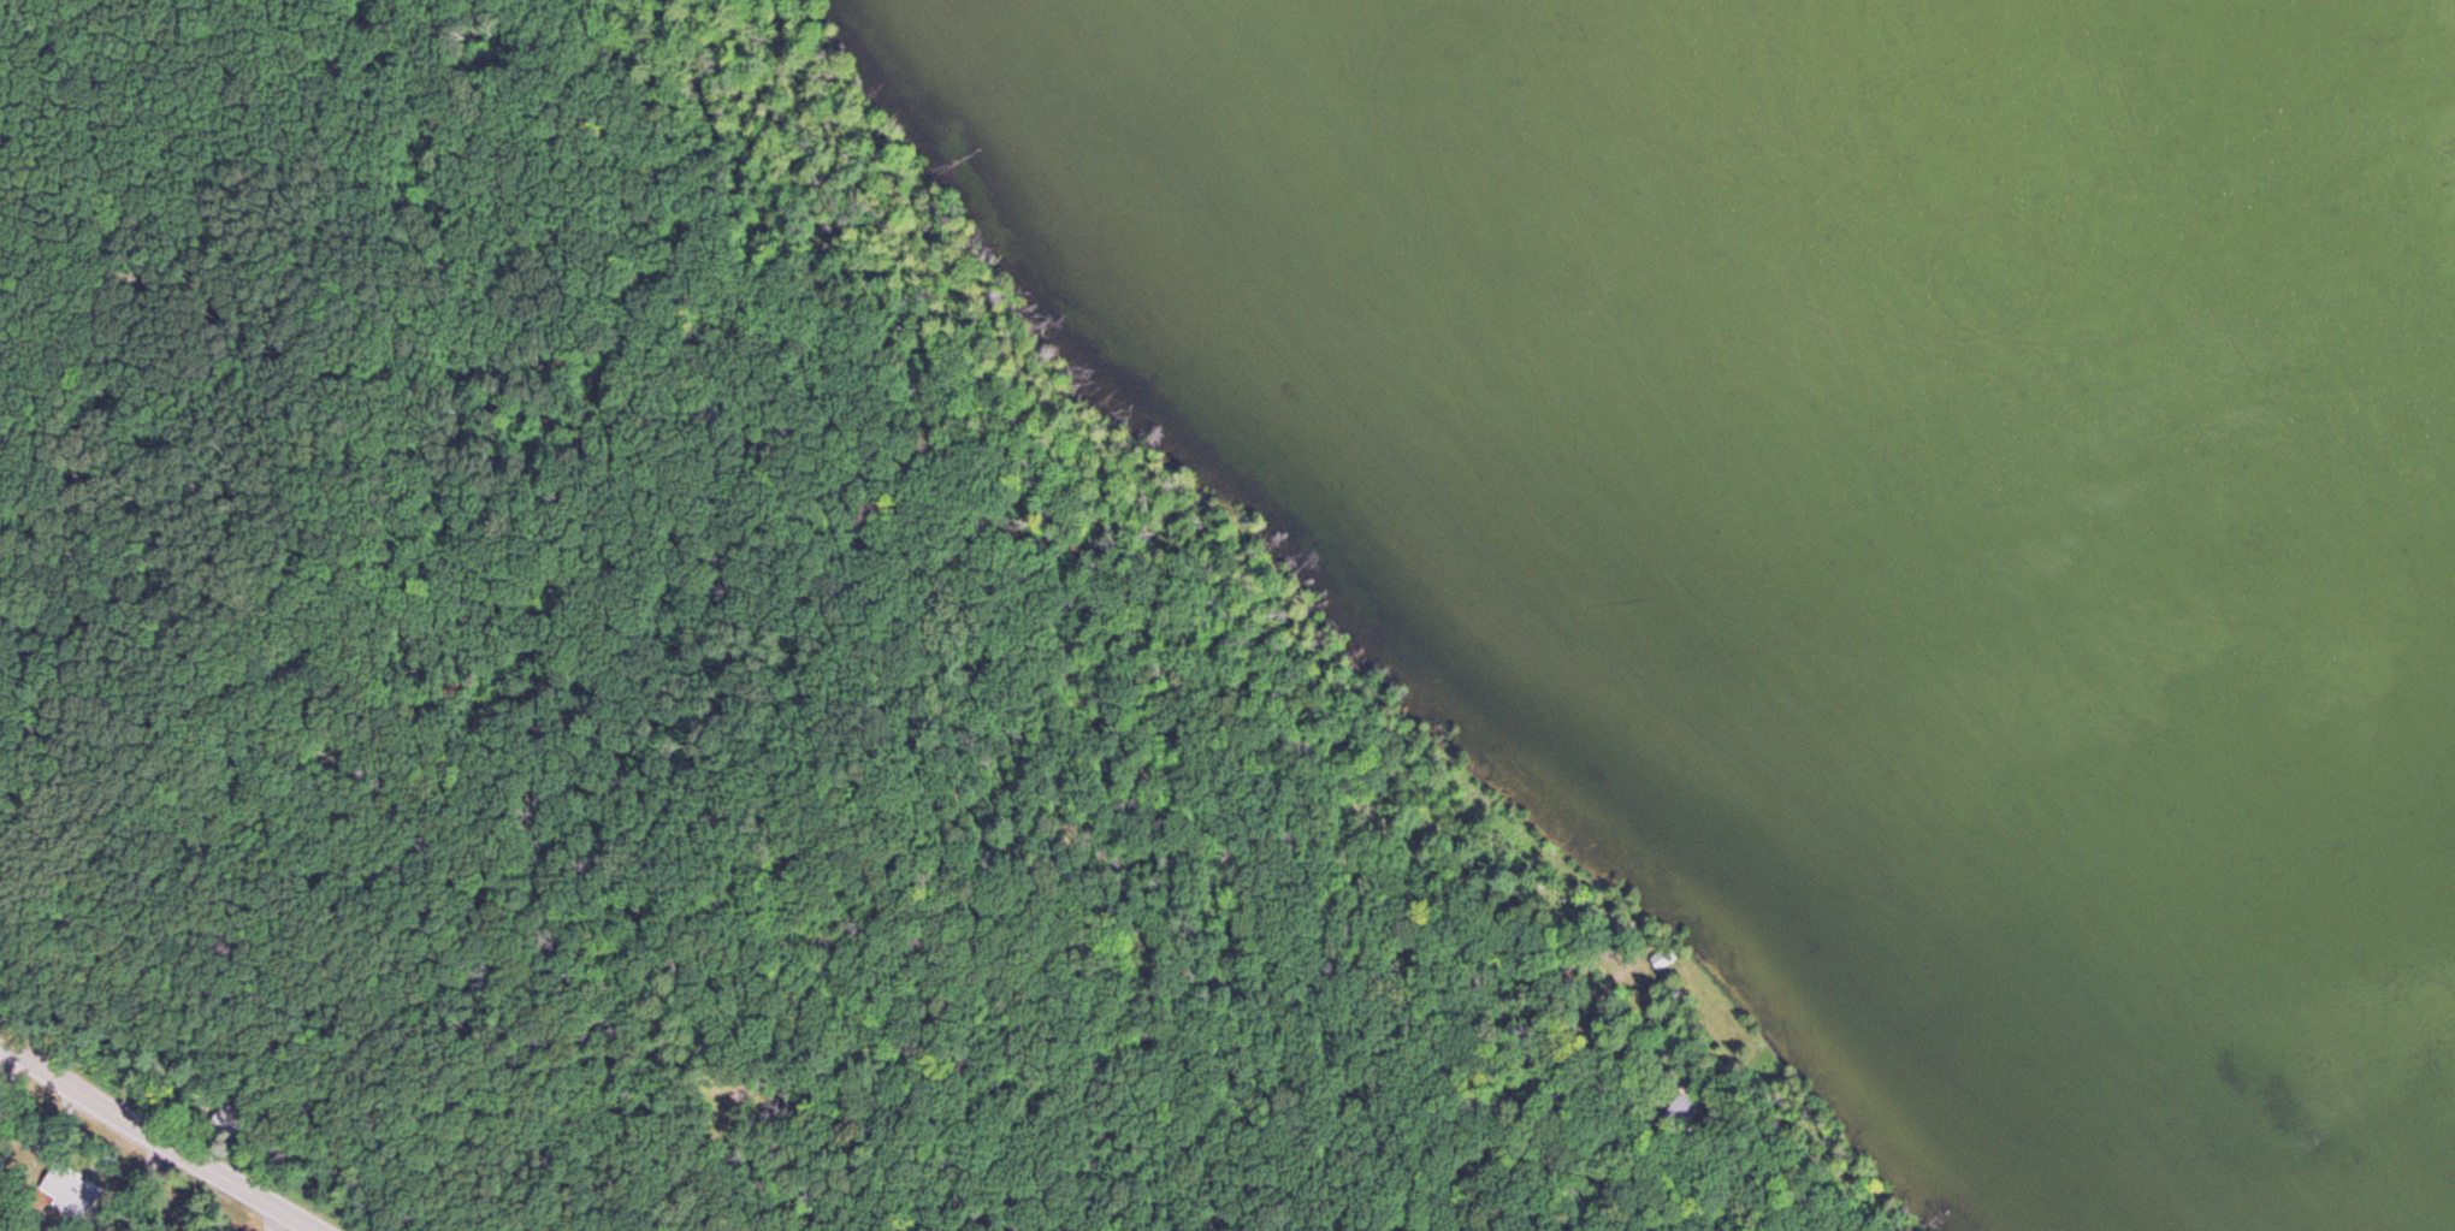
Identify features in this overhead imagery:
road: (1289, 993)
road: (783, 996)
road: (1536, 1137)
road: (155, 1138)
building: (72, 1194)

